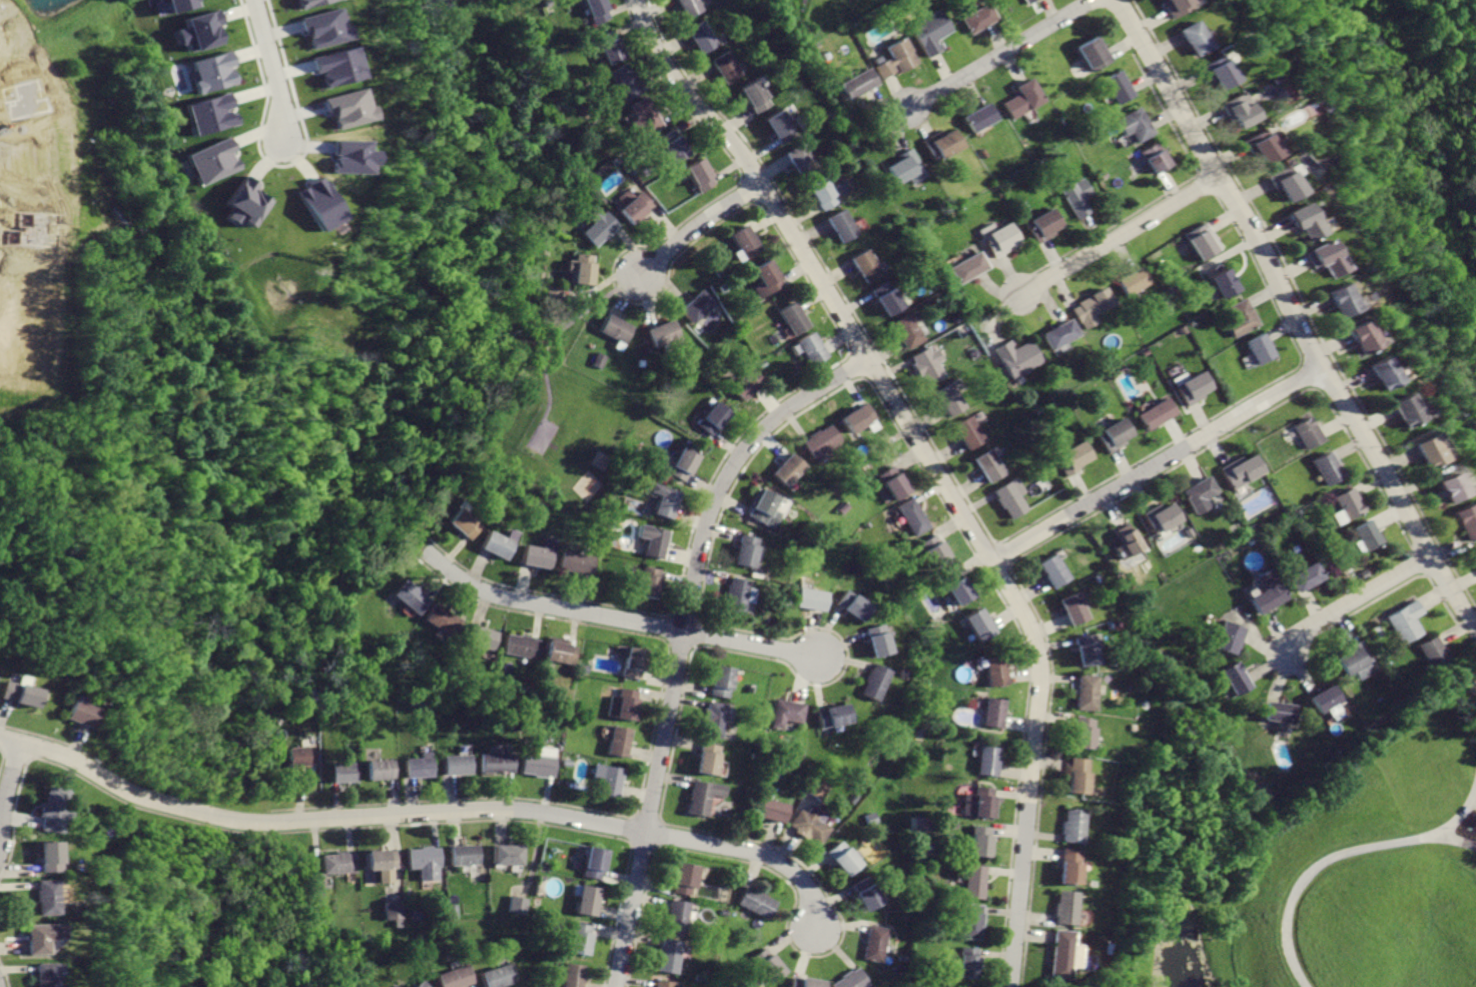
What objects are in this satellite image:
building: (1033, 0)
building: (162, 1)
building: (295, 2)
building: (692, 8)
building: (1172, 8)
building: (594, 11)
building: (975, 19)
building: (319, 28)
building: (200, 30)
building: (925, 32)
building: (704, 37)
building: (1190, 39)
road: (1119, 41)
road: (1103, 42)
building: (609, 49)
road: (1000, 53)
building: (1093, 53)
building: (895, 61)
building: (333, 66)
road: (270, 68)
building: (729, 68)
building: (213, 72)
building: (1214, 72)
building: (626, 83)
building: (857, 84)
building: (1116, 89)
road: (672, 95)
building: (757, 98)
building: (1021, 99)
road: (1159, 106)
building: (344, 107)
building: (1235, 111)
building: (213, 113)
building: (648, 116)
building: (977, 118)
building: (1133, 125)
building: (782, 127)
building: (939, 145)
building: (673, 147)
building: (1258, 148)
building: (1155, 159)
building: (803, 161)
building: (207, 163)
building: (906, 169)
building: (701, 176)
road: (741, 179)
building: (1279, 182)
road: (1205, 184)
road: (747, 190)
building: (824, 195)
building: (1076, 197)
road: (752, 201)
building: (246, 202)
building: (313, 206)
building: (636, 207)
road: (1111, 221)
building: (1299, 221)
building: (599, 224)
road: (700, 226)
building: (1040, 226)
building: (843, 227)
road: (1118, 232)
building: (995, 240)
building: (748, 242)
building: (1201, 242)
building: (1318, 257)
road: (826, 266)
building: (867, 266)
building: (965, 268)
building: (581, 270)
road: (805, 273)
building: (767, 281)
road: (1022, 281)
road: (629, 282)
building: (1127, 283)
building: (1218, 283)
road: (613, 289)
building: (887, 298)
building: (1335, 302)
building: (697, 308)
building: (1087, 309)
road: (1299, 309)
building: (794, 319)
road: (1293, 319)
building: (1236, 320)
building: (616, 329)
building: (907, 333)
building: (664, 334)
road: (548, 335)
building: (1056, 335)
building: (1354, 337)
building: (1257, 349)
building: (812, 350)
road: (847, 352)
building: (1013, 357)
building: (597, 359)
road: (855, 363)
building: (925, 366)
building: (1374, 373)
road: (862, 375)
building: (747, 383)
building: (1188, 390)
building: (949, 400)
road: (1226, 404)
building: (1396, 411)
building: (1152, 414)
building: (711, 418)
building: (859, 418)
park: (552, 424)
road: (1238, 424)
building: (969, 432)
building: (1306, 433)
park: (536, 435)
park: (549, 435)
building: (1109, 435)
building: (821, 440)
building: (1422, 451)
road: (721, 456)
building: (1069, 459)
road: (934, 463)
building: (681, 464)
road: (1156, 464)
building: (989, 465)
building: (1323, 468)
building: (788, 469)
road: (739, 470)
building: (1237, 471)
building: (894, 479)
building: (1440, 486)
building: (1198, 493)
building: (1011, 499)
building: (662, 500)
building: (1346, 504)
building: (764, 508)
building: (913, 516)
building: (1158, 519)
building: (1462, 521)
building: (462, 523)
building: (1366, 535)
road: (454, 536)
building: (653, 540)
road: (996, 540)
building: (1124, 542)
building: (497, 545)
road: (451, 549)
building: (745, 549)
building: (935, 550)
road: (1002, 552)
building: (1473, 554)
building: (537, 557)
road: (1415, 559)
building: (576, 562)
building: (1054, 569)
building: (1304, 577)
road: (432, 578)
road: (419, 581)
building: (649, 582)
building: (958, 586)
road: (541, 591)
building: (1266, 591)
building: (735, 594)
road: (1378, 594)
building: (410, 595)
building: (811, 598)
road: (1353, 600)
road: (1440, 600)
building: (853, 604)
building: (1074, 608)
road: (669, 612)
road: (531, 613)
road: (614, 616)
road: (684, 616)
building: (443, 620)
building: (1404, 622)
building: (979, 623)
road: (667, 628)
road: (1341, 628)
road: (1456, 628)
road: (695, 632)
road: (679, 635)
building: (482, 637)
building: (1227, 637)
building: (879, 639)
road: (678, 643)
road: (1338, 644)
road: (1445, 645)
building: (520, 646)
building: (1086, 649)
building: (1432, 651)
building: (560, 653)
building: (1352, 657)
road: (1025, 659)
road: (843, 660)
building: (632, 662)
building: (996, 670)
building: (1235, 679)
building: (721, 681)
building: (875, 683)
building: (1087, 692)
building: (18, 693)
building: (1325, 698)
building: (622, 703)
building: (994, 712)
building: (78, 713)
building: (785, 713)
building: (1278, 713)
building: (834, 715)
building: (712, 719)
road: (65, 728)
road: (649, 728)
road: (673, 731)
building: (1083, 733)
road: (49, 738)
road: (69, 740)
building: (617, 742)
road: (12, 753)
building: (299, 755)
building: (707, 759)
building: (987, 761)
building: (497, 762)
building: (457, 764)
building: (538, 764)
building: (417, 766)
road: (1038, 766)
building: (380, 769)
road: (299, 770)
building: (344, 772)
building: (1076, 776)
building: (607, 778)
building: (818, 787)
road: (298, 792)
road: (6, 795)
building: (703, 797)
road: (449, 798)
road: (1474, 798)
building: (978, 802)
building: (51, 809)
building: (772, 809)
road: (426, 814)
road: (644, 816)
building: (920, 823)
road: (789, 824)
building: (811, 824)
building: (1071, 825)
road: (320, 828)
road: (628, 828)
road: (654, 831)
road: (1449, 838)
building: (980, 840)
road: (639, 843)
road: (1357, 849)
building: (508, 854)
building: (466, 855)
road: (533, 856)
building: (46, 857)
building: (843, 857)
building: (381, 858)
road: (398, 859)
building: (338, 862)
building: (425, 862)
building: (593, 862)
building: (1067, 866)
building: (685, 878)
building: (974, 881)
building: (865, 893)
building: (44, 896)
building: (588, 901)
building: (756, 902)
building: (518, 905)
building: (1062, 907)
building: (393, 910)
road: (615, 914)
road: (637, 915)
building: (677, 917)
building: (969, 921)
road: (1032, 935)
building: (40, 936)
building: (579, 939)
building: (875, 942)
road: (829, 949)
road: (803, 952)
road: (1039, 954)
building: (1058, 954)
building: (669, 955)
building: (966, 962)
building: (767, 965)
road: (805, 972)
building: (43, 975)
building: (574, 976)
building: (457, 977)
building: (498, 977)
building: (848, 980)
building: (803, 982)
building: (664, 984)
building: (423, 985)

